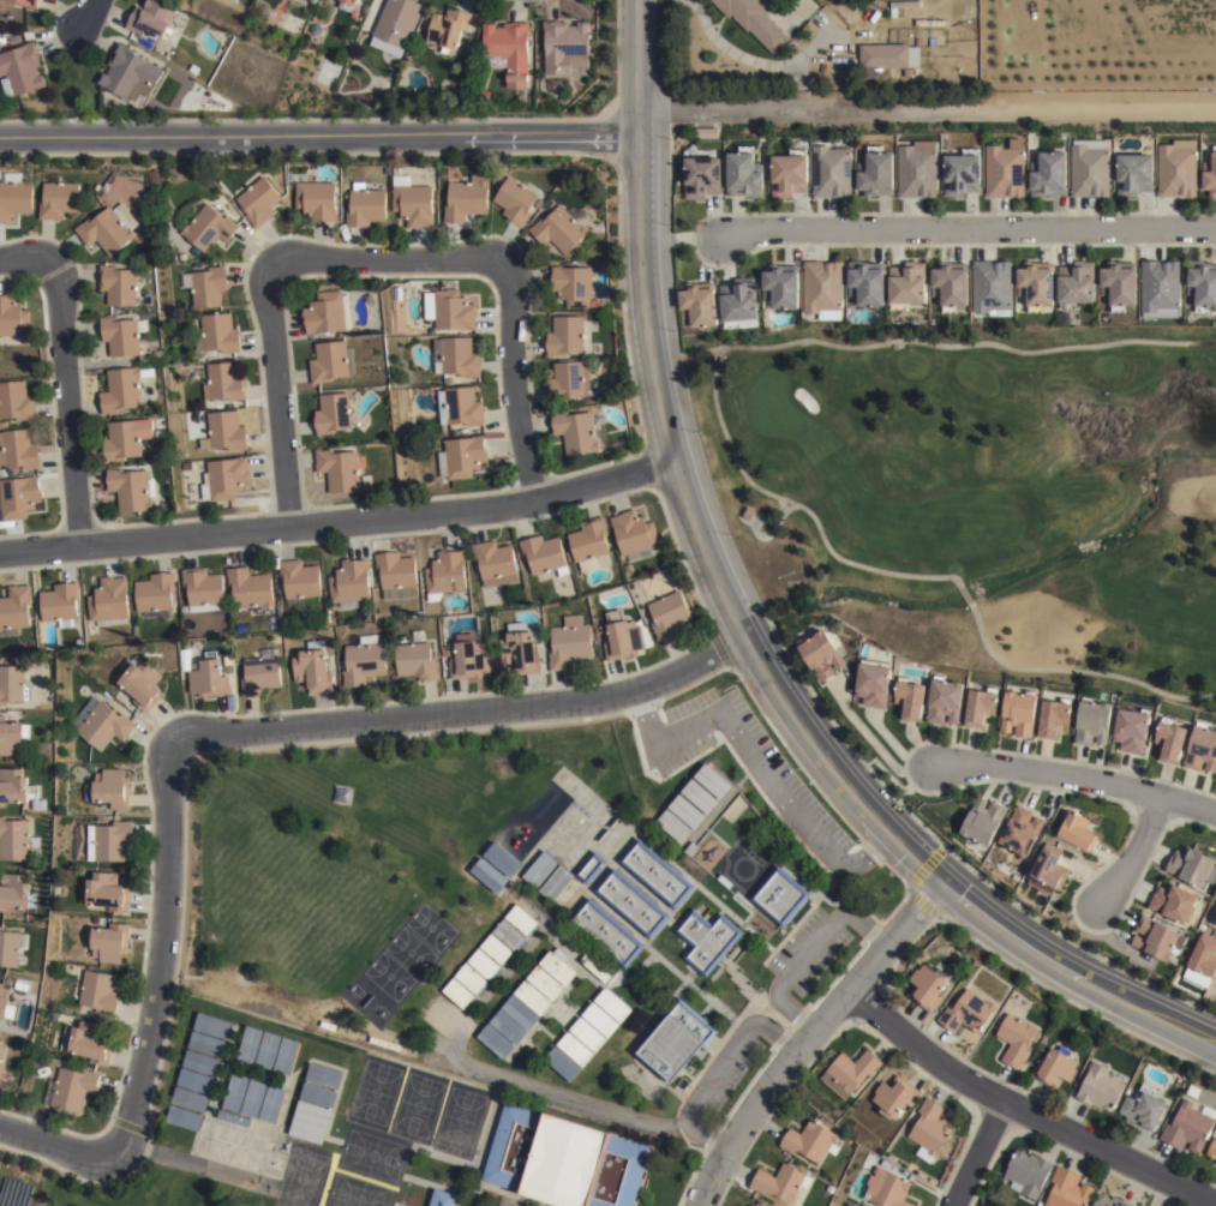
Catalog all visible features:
building: (29, 2)
building: (905, 4)
building: (348, 6)
road: (88, 14)
building: (149, 17)
building: (753, 20)
building: (395, 25)
building: (448, 28)
building: (565, 46)
building: (509, 48)
building: (885, 58)
building: (20, 67)
road: (640, 68)
building: (128, 72)
road: (923, 103)
building: (706, 133)
road: (321, 136)
building: (1090, 167)
building: (1176, 168)
building: (917, 169)
building: (831, 170)
building: (1005, 170)
building: (789, 172)
building: (876, 172)
building: (963, 172)
building: (744, 173)
building: (1133, 173)
building: (1050, 174)
building: (1210, 175)
building: (700, 176)
building: (14, 198)
building: (58, 198)
building: (256, 198)
building: (466, 198)
building: (316, 199)
building: (412, 199)
building: (515, 199)
building: (364, 205)
building: (204, 223)
building: (558, 229)
building: (104, 230)
road: (962, 239)
building: (181, 256)
road: (23, 258)
road: (385, 260)
building: (867, 282)
building: (1202, 283)
building: (780, 284)
building: (990, 284)
building: (1076, 284)
building: (1160, 284)
building: (208, 286)
building: (573, 286)
building: (907, 286)
building: (950, 286)
building: (1036, 286)
building: (1118, 286)
building: (118, 287)
building: (823, 288)
building: (737, 301)
building: (696, 306)
building: (449, 310)
building: (328, 312)
building: (13, 316)
building: (220, 332)
building: (343, 334)
building: (122, 335)
building: (564, 336)
building: (456, 356)
building: (329, 361)
building: (224, 382)
road: (514, 382)
building: (570, 383)
building: (121, 390)
road: (276, 398)
building: (16, 401)
road: (67, 402)
building: (460, 406)
building: (333, 413)
building: (2, 425)
building: (575, 431)
building: (224, 432)
building: (161, 434)
building: (127, 438)
building: (18, 449)
building: (461, 457)
building: (339, 469)
building: (2, 473)
building: (224, 479)
building: (132, 488)
park: (980, 492)
building: (18, 497)
road: (341, 523)
building: (635, 535)
building: (589, 542)
building: (544, 557)
building: (495, 563)
building: (445, 572)
building: (396, 576)
building: (300, 580)
building: (349, 582)
building: (251, 588)
building: (203, 589)
building: (156, 595)
building: (109, 600)
building: (59, 602)
building: (14, 608)
building: (417, 613)
building: (669, 614)
building: (0, 630)
building: (623, 637)
building: (569, 642)
building: (445, 650)
building: (520, 653)
building: (820, 655)
building: (415, 658)
building: (469, 661)
building: (364, 662)
building: (312, 668)
building: (229, 670)
building: (262, 674)
building: (209, 679)
building: (139, 683)
building: (874, 683)
building: (12, 685)
road: (773, 690)
building: (910, 698)
building: (945, 702)
building: (981, 707)
road: (465, 712)
building: (1019, 714)
building: (1052, 718)
building: (1091, 722)
building: (101, 724)
building: (1131, 731)
building: (12, 738)
building: (1169, 739)
road: (661, 740)
road: (875, 749)
building: (1202, 749)
parking lot: (745, 767)
building: (717, 779)
road: (1077, 780)
building: (711, 786)
building: (18, 791)
building: (110, 791)
building: (703, 793)
building: (341, 796)
building: (696, 802)
building: (690, 809)
road: (793, 814)
building: (684, 816)
building: (983, 822)
building: (677, 823)
building: (671, 832)
building: (1022, 832)
building: (1078, 833)
building: (17, 840)
building: (108, 842)
building: (690, 850)
road: (1132, 854)
building: (589, 866)
building: (1191, 868)
building: (1050, 869)
building: (484, 874)
building: (657, 875)
building: (16, 893)
building: (103, 894)
building: (780, 898)
building: (631, 905)
building: (1175, 905)
building: (1214, 919)
building: (521, 922)
building: (1215, 925)
building: (606, 935)
building: (508, 936)
building: (1155, 940)
building: (707, 941)
building: (570, 943)
building: (109, 944)
building: (11, 948)
road: (158, 950)
building: (496, 950)
road: (805, 950)
parking lot: (810, 954)
building: (1204, 958)
building: (483, 966)
building: (558, 967)
building: (469, 979)
building: (545, 985)
building: (927, 989)
building: (98, 994)
building: (457, 995)
building: (532, 1000)
building: (6, 1007)
building: (613, 1007)
building: (520, 1014)
building: (968, 1014)
building: (600, 1021)
building: (212, 1027)
building: (508, 1027)
building: (588, 1036)
road: (809, 1037)
building: (676, 1042)
building: (1014, 1042)
building: (495, 1043)
building: (86, 1044)
building: (206, 1046)
building: (251, 1046)
building: (269, 1051)
building: (575, 1051)
building: (1, 1055)
building: (288, 1058)
building: (202, 1064)
building: (563, 1066)
road: (717, 1067)
building: (849, 1069)
building: (1053, 1070)
parking lot: (724, 1074)
building: (325, 1079)
building: (194, 1084)
building: (1098, 1088)
building: (71, 1090)
building: (894, 1093)
building: (1193, 1093)
building: (235, 1094)
building: (319, 1097)
building: (253, 1100)
building: (190, 1102)
building: (272, 1106)
building: (1143, 1109)
building: (316, 1111)
road: (1023, 1112)
building: (184, 1120)
building: (234, 1120)
building: (312, 1120)
building: (310, 1128)
building: (929, 1128)
building: (1188, 1128)
building: (306, 1136)
building: (810, 1138)
road: (54, 1146)
building: (1211, 1151)
road: (978, 1154)
building: (563, 1163)
building: (1026, 1170)
building: (779, 1181)
building: (888, 1184)
building: (829, 1187)
building: (1066, 1188)
building: (441, 1196)
building: (1109, 1200)
parking lot: (507, 1202)
building: (759, 1202)
building: (850, 1204)
building: (737, 1205)
building: (1145, 1205)

